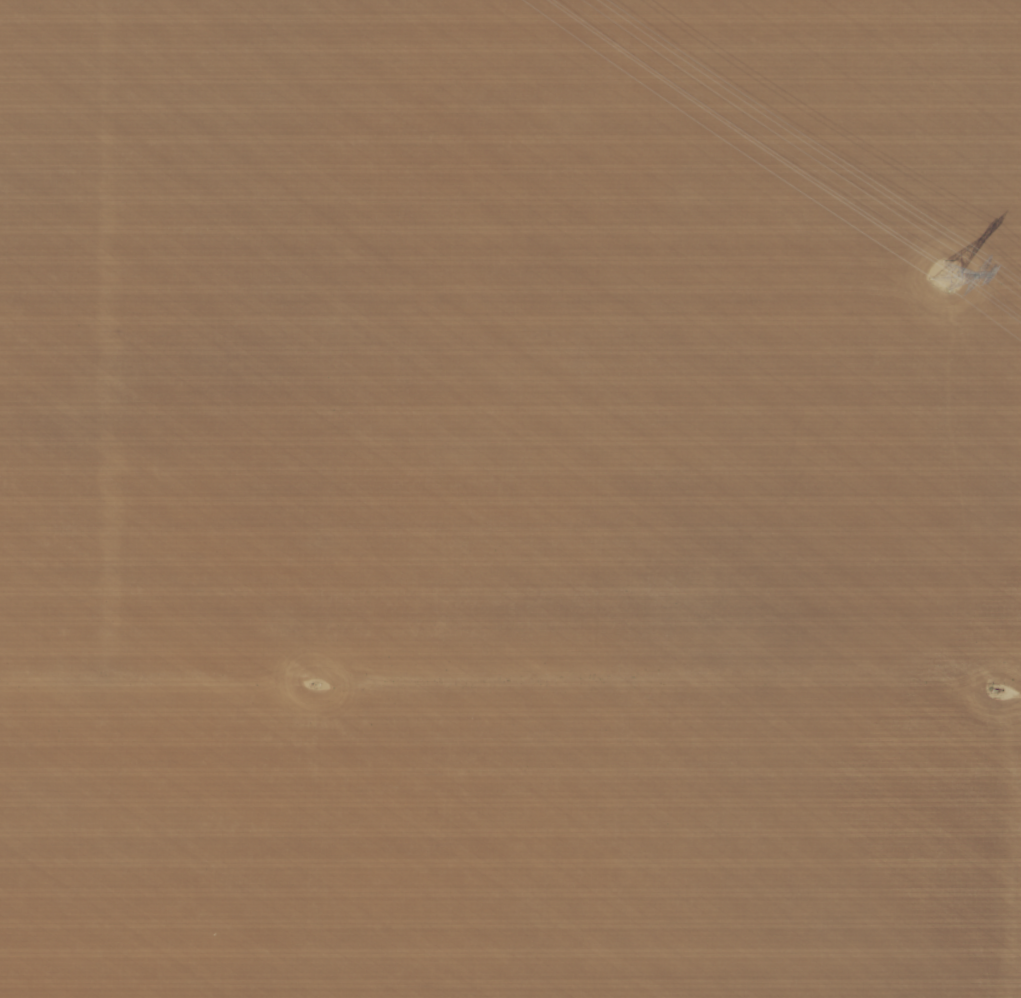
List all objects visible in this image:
power tower: (946, 275)
road: (592, 747)

